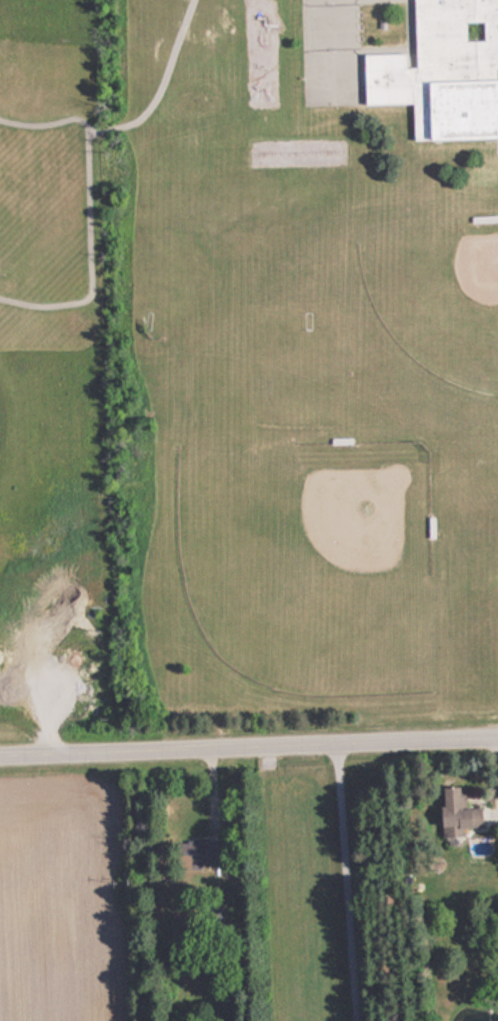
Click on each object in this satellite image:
building: (443, 70)
road: (133, 118)
road: (92, 260)
park: (439, 300)
park: (310, 569)
road: (249, 736)
building: (454, 814)
building: (199, 855)

